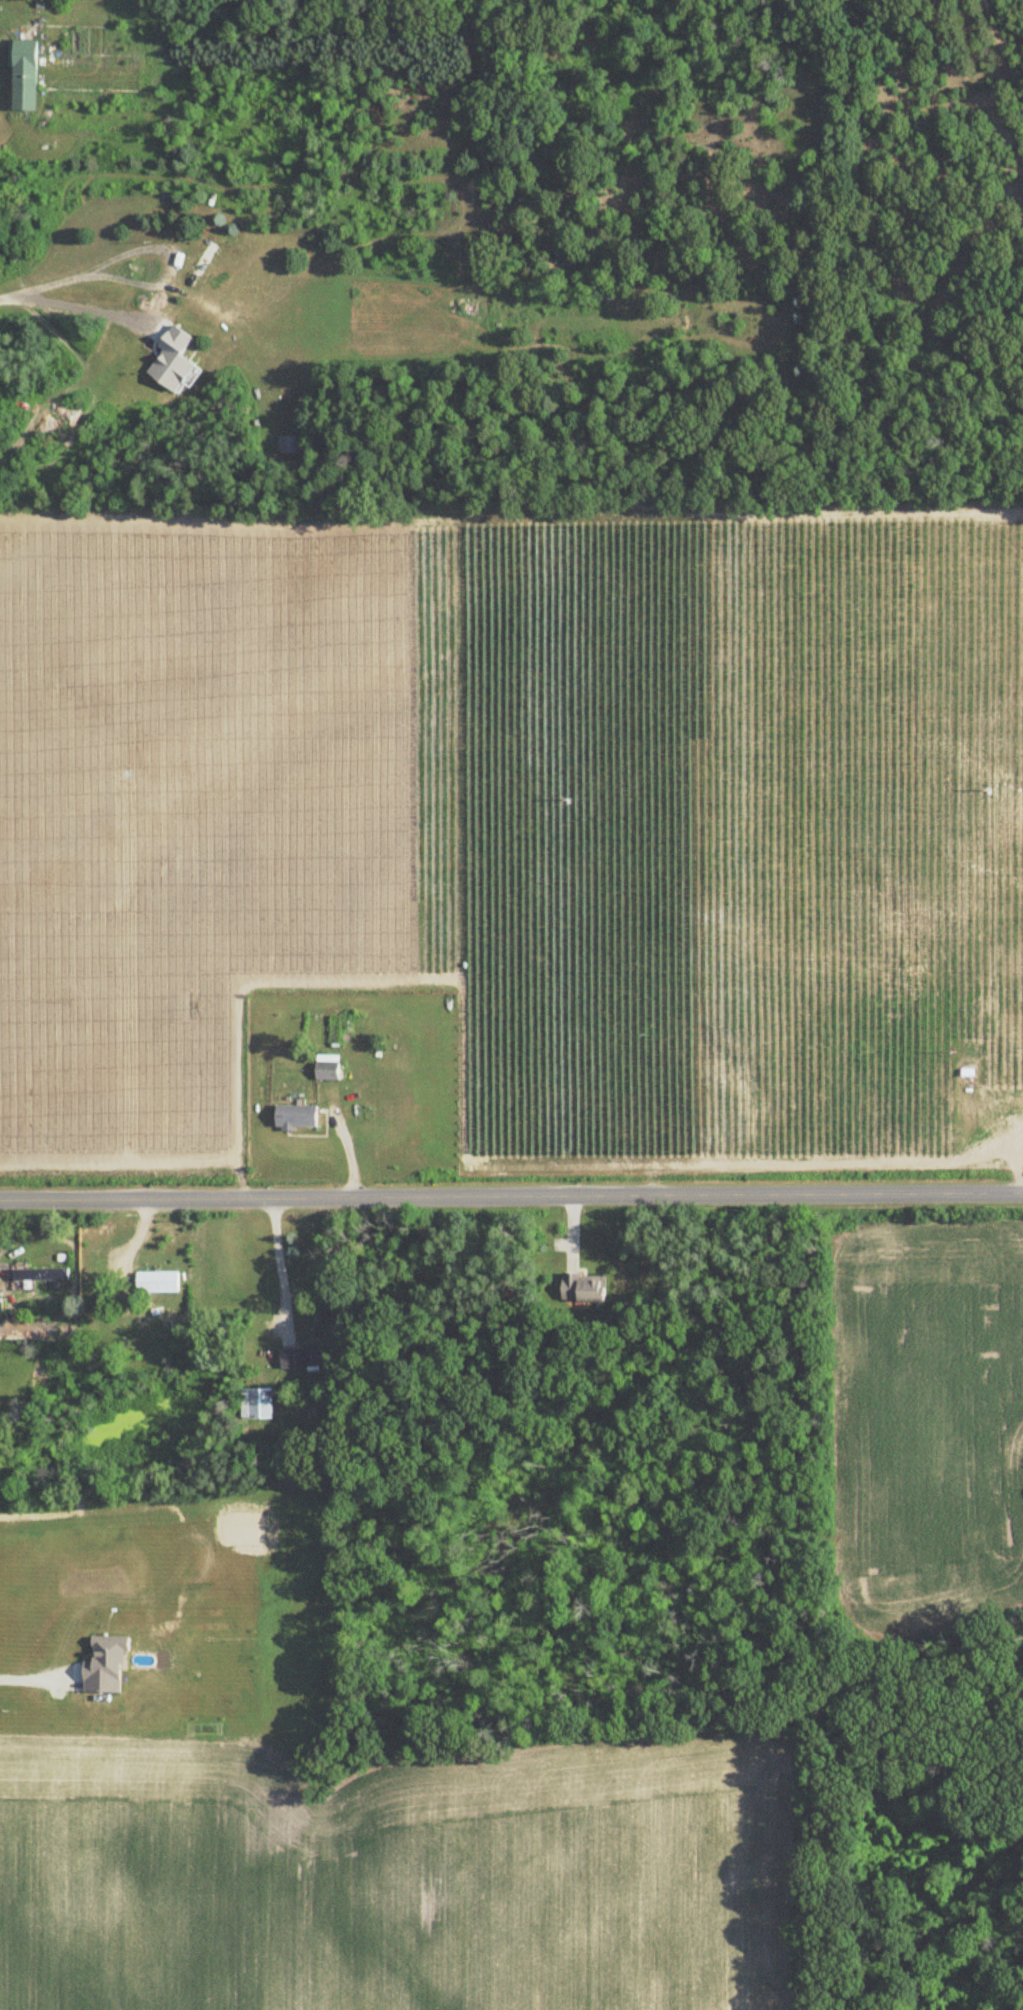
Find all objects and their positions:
building: (26, 73)
road: (166, 260)
building: (202, 266)
road: (40, 284)
road: (64, 303)
building: (288, 445)
building: (329, 1068)
building: (299, 1117)
road: (511, 1196)
road: (279, 1258)
building: (44, 1274)
building: (159, 1281)
building: (587, 1286)
building: (1, 1302)
building: (307, 1356)
building: (257, 1403)
road: (21, 1677)

